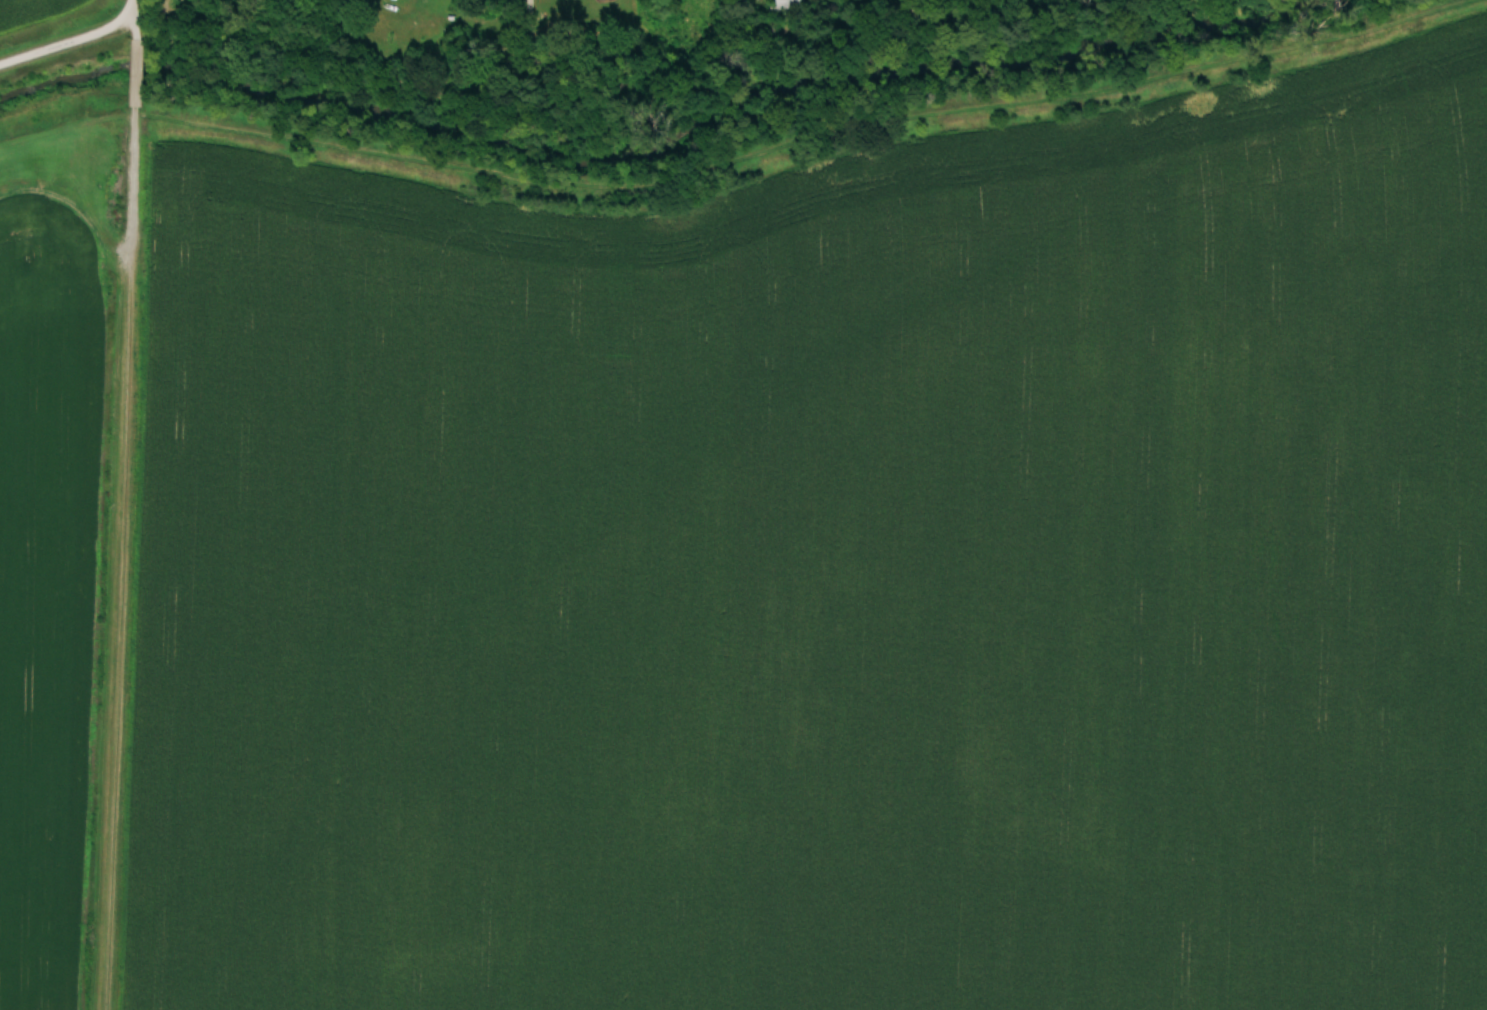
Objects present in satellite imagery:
road: (316, 1)
building: (491, 2)
building: (203, 3)
building: (787, 7)
road: (133, 12)
road: (527, 35)
road: (67, 45)
road: (114, 516)

